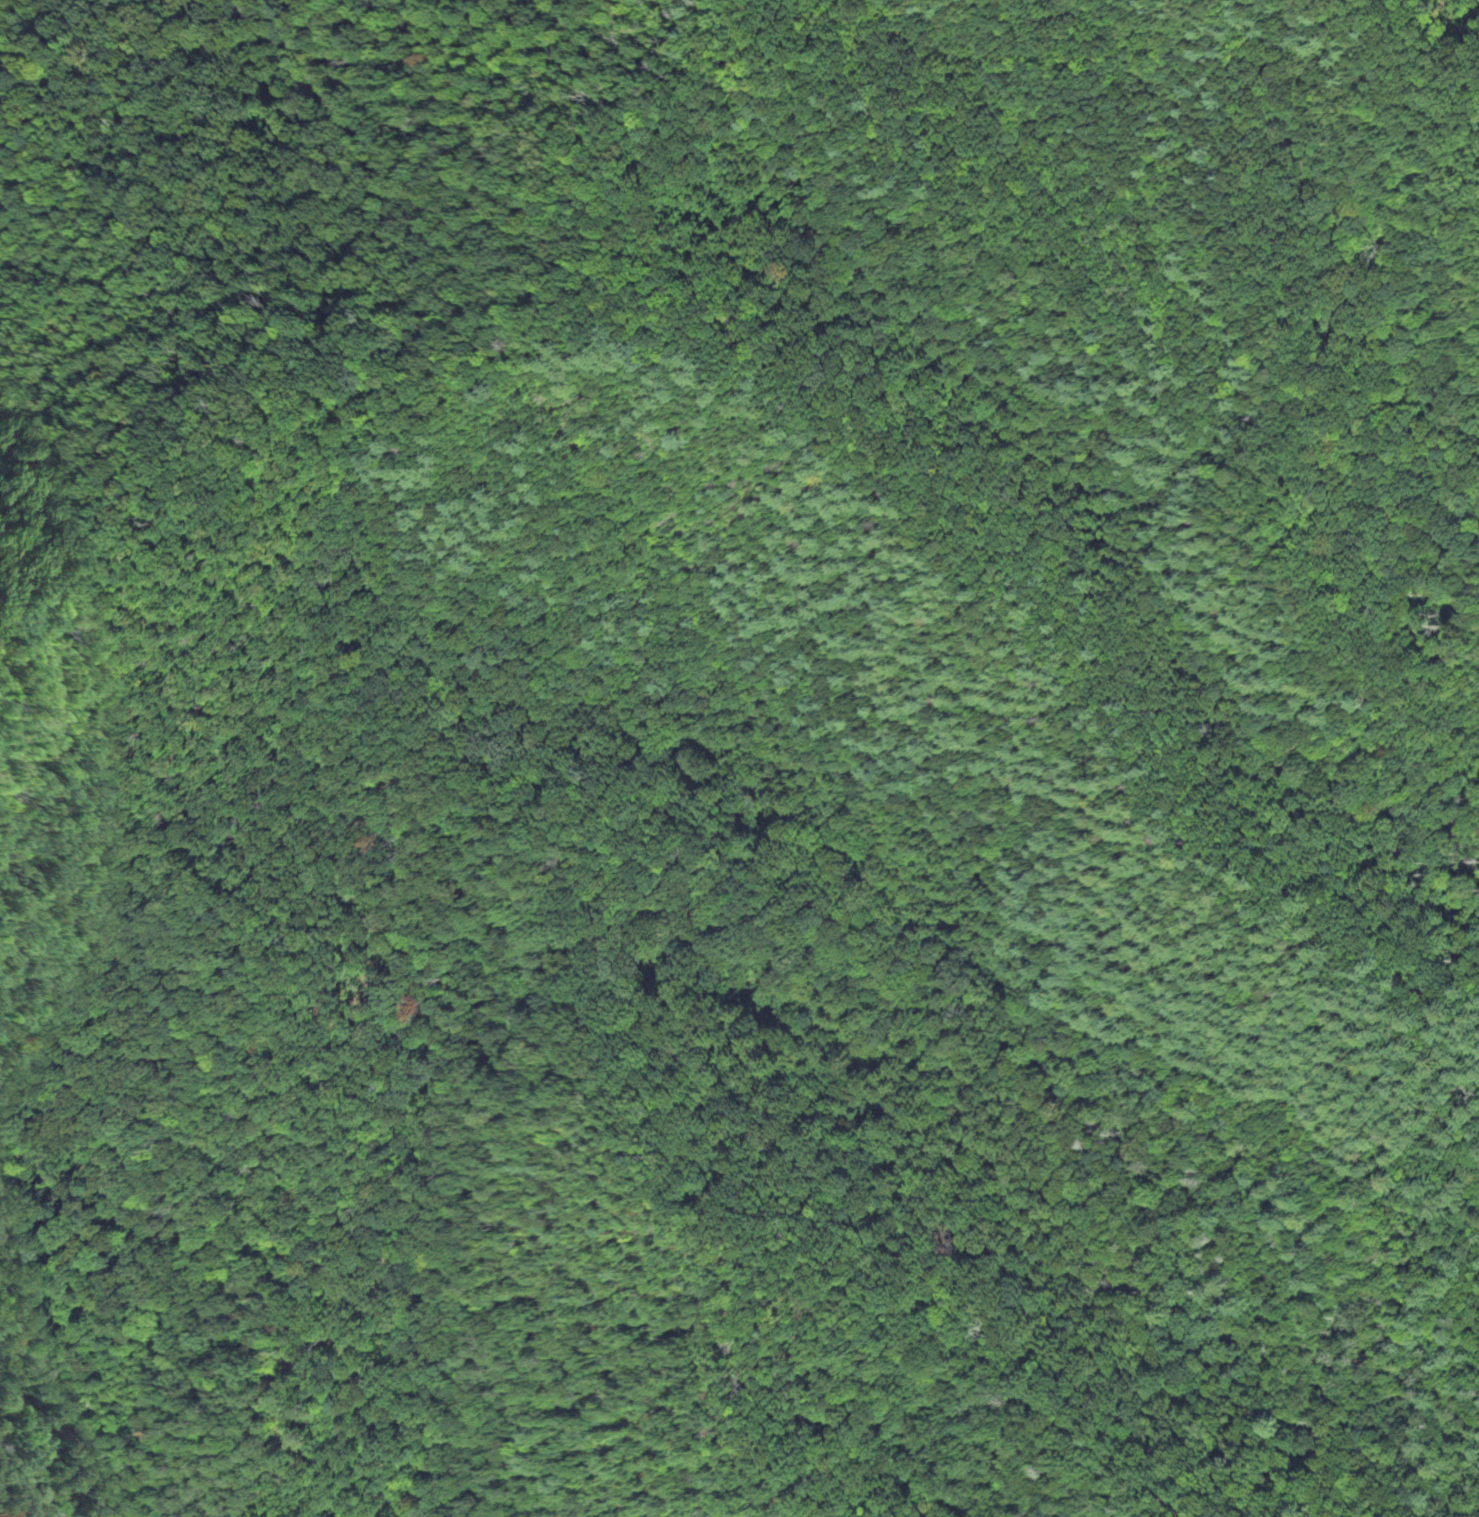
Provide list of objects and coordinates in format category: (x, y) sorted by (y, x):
road: (1074, 2)
road: (837, 235)
road: (1144, 285)
road: (899, 1028)

